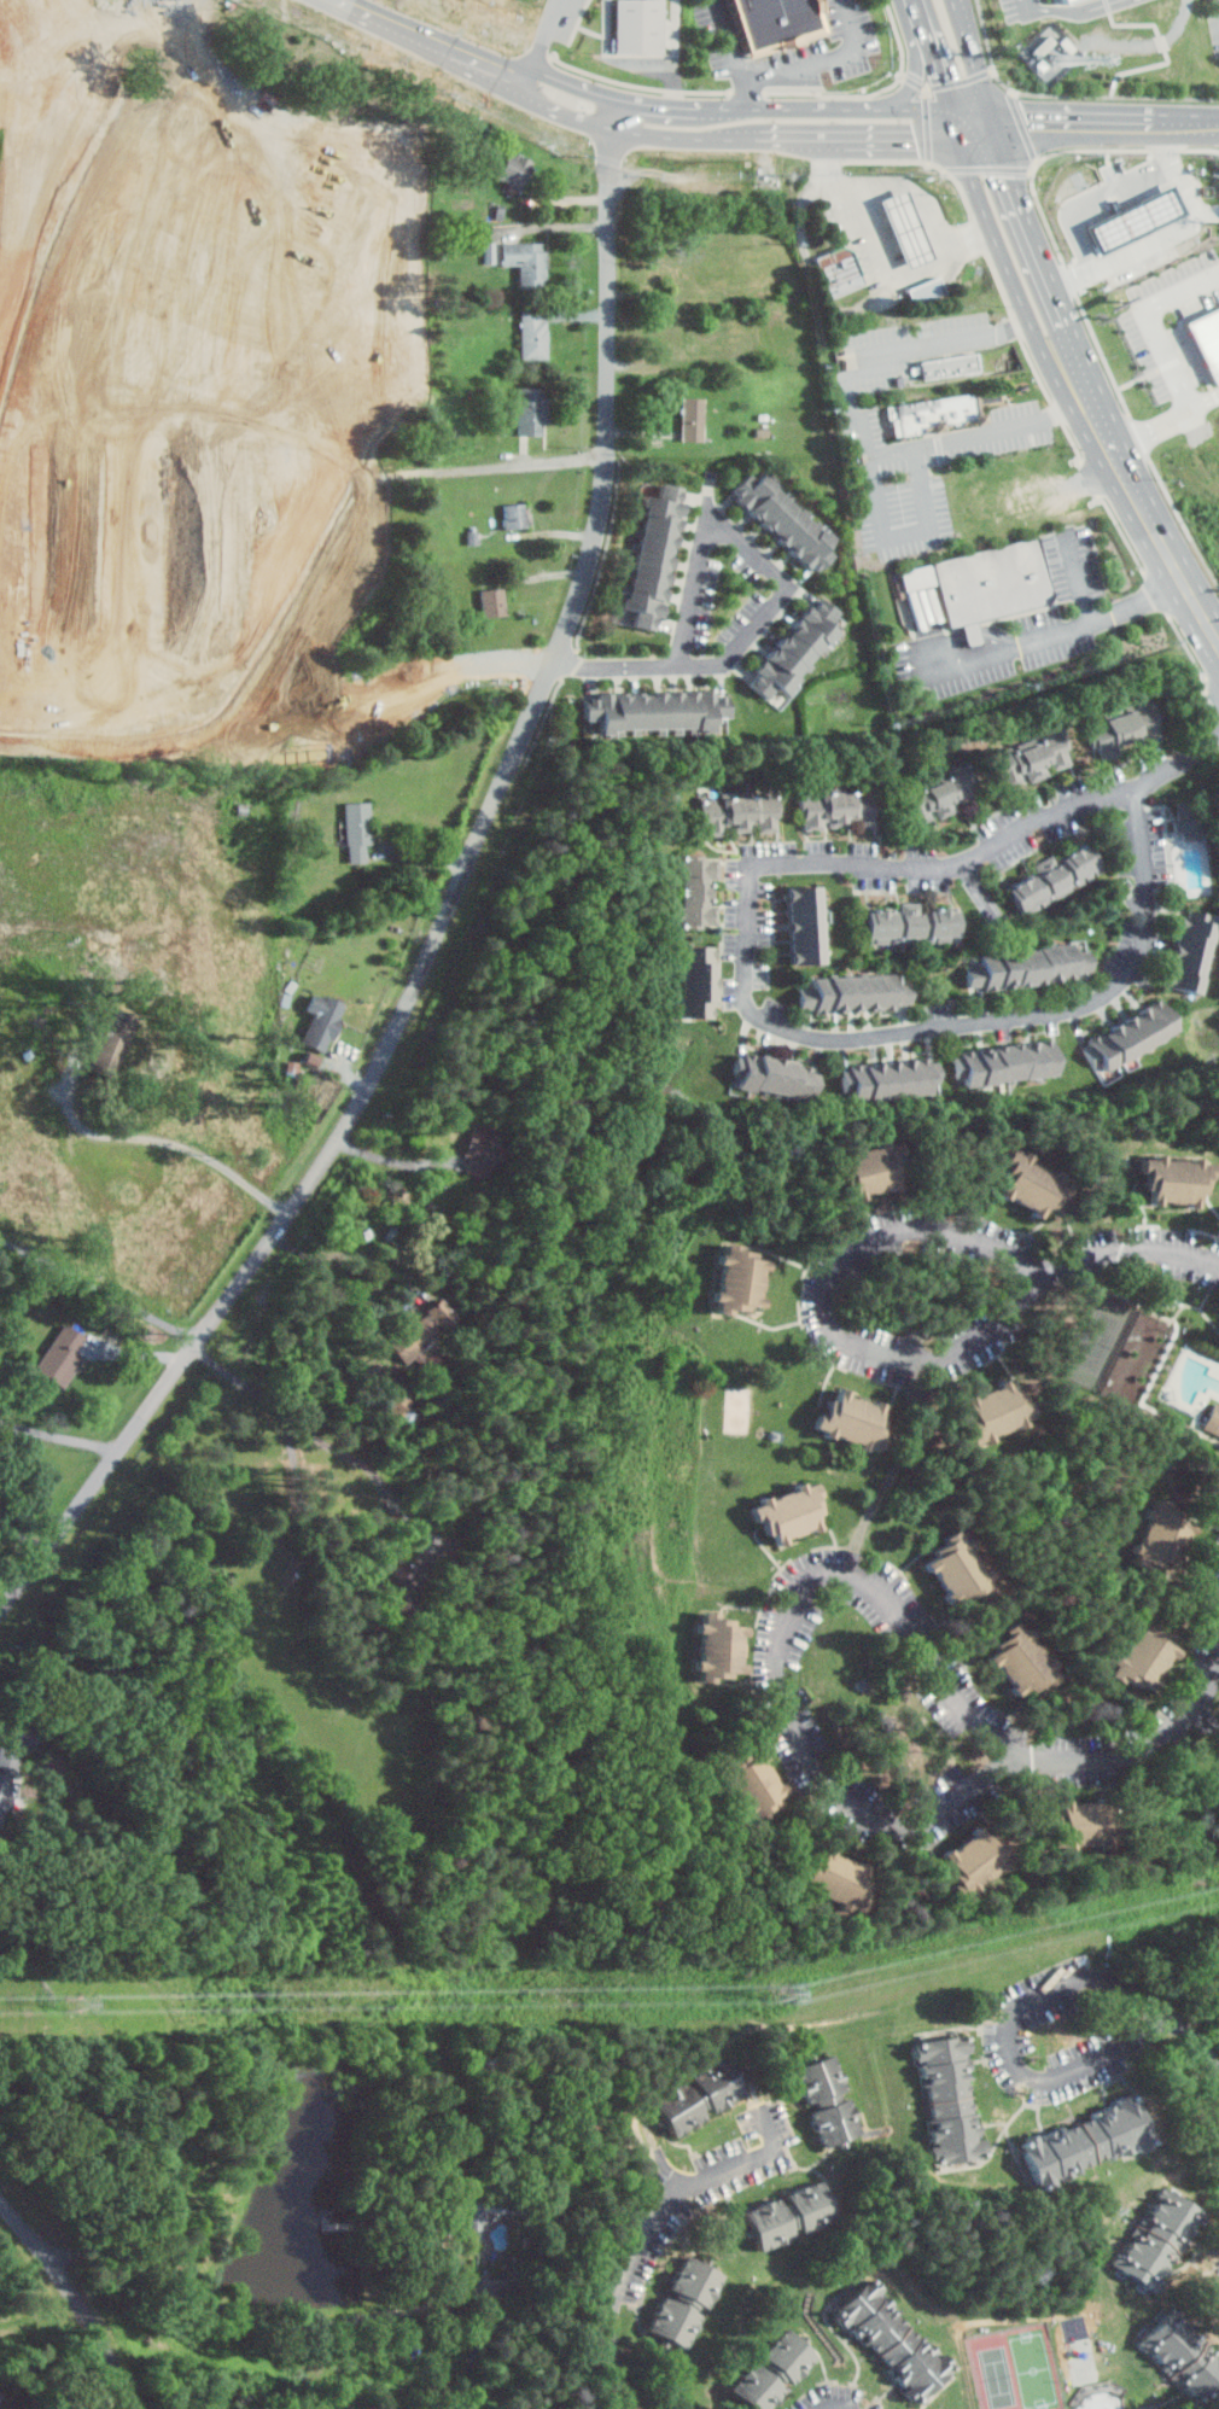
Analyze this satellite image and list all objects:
building: (1061, 0)
road: (1032, 4)
road: (362, 8)
road: (1077, 10)
road: (920, 11)
building: (782, 23)
building: (647, 29)
road: (543, 41)
road: (455, 49)
building: (1051, 49)
road: (676, 52)
road: (735, 53)
road: (974, 58)
road: (826, 60)
road: (918, 74)
traffic signals: (941, 75)
road: (943, 80)
road: (574, 83)
road: (669, 105)
road: (855, 107)
traffic signals: (1030, 118)
road: (1106, 119)
road: (976, 128)
road: (632, 129)
road: (785, 139)
road: (888, 139)
traffic signals: (920, 139)
building: (514, 169)
traffic signals: (1016, 175)
road: (912, 189)
building: (1135, 211)
building: (903, 228)
gas station: (903, 228)
road: (1177, 228)
building: (490, 252)
road: (1048, 255)
road: (887, 259)
building: (526, 261)
building: (839, 270)
road: (1013, 274)
building: (923, 290)
building: (533, 336)
building: (1206, 339)
building: (202, 343)
building: (945, 366)
road: (1180, 368)
road: (1209, 404)
building: (536, 412)
building: (939, 413)
building: (699, 420)
road: (863, 430)
road: (1119, 455)
building: (514, 515)
building: (792, 519)
road: (905, 537)
building: (661, 558)
road: (1079, 577)
road: (1183, 577)
building: (982, 583)
road: (782, 593)
building: (492, 601)
road: (1057, 630)
building: (793, 648)
building: (654, 712)
building: (1124, 730)
building: (1031, 758)
road: (1180, 760)
building: (938, 797)
building: (838, 811)
building: (739, 815)
building: (1186, 819)
building: (358, 830)
building: (1052, 880)
building: (695, 892)
road: (450, 908)
building: (909, 924)
building: (804, 926)
building: (1185, 956)
building: (1025, 967)
building: (693, 982)
building: (852, 993)
building: (321, 1021)
road: (769, 1021)
building: (1131, 1033)
building: (1005, 1063)
building: (775, 1077)
building: (890, 1080)
road: (176, 1142)
building: (479, 1151)
road: (392, 1157)
building: (863, 1171)
building: (1167, 1183)
building: (1022, 1186)
road: (1128, 1252)
road: (363, 1253)
building: (731, 1282)
road: (100, 1288)
road: (824, 1311)
building: (425, 1329)
park: (1102, 1332)
building: (60, 1354)
building: (393, 1399)
building: (985, 1412)
building: (1213, 1417)
building: (845, 1422)
road: (59, 1435)
road: (322, 1436)
building: (799, 1513)
road: (23, 1533)
building: (1160, 1540)
building: (947, 1576)
building: (396, 1594)
building: (731, 1645)
road: (782, 1647)
building: (1137, 1662)
building: (1010, 1664)
road: (1205, 1721)
road: (1138, 1751)
building: (6, 1779)
building: (764, 1783)
building: (1085, 1821)
building: (975, 1859)
building: (836, 1878)
power tower: (787, 1996)
power tower: (80, 2005)
road: (1008, 2037)
road: (1202, 2042)
building: (701, 2095)
building: (951, 2099)
building: (829, 2100)
building: (1087, 2141)
building: (469, 2215)
building: (792, 2215)
road: (653, 2228)
building: (1161, 2239)
road: (76, 2296)
building: (686, 2303)
road: (274, 2321)
building: (894, 2340)
building: (1185, 2356)
park: (1017, 2369)
building: (775, 2372)
dam: (47, 2386)
dam: (48, 2399)
road: (840, 2404)
building: (1151, 2408)

